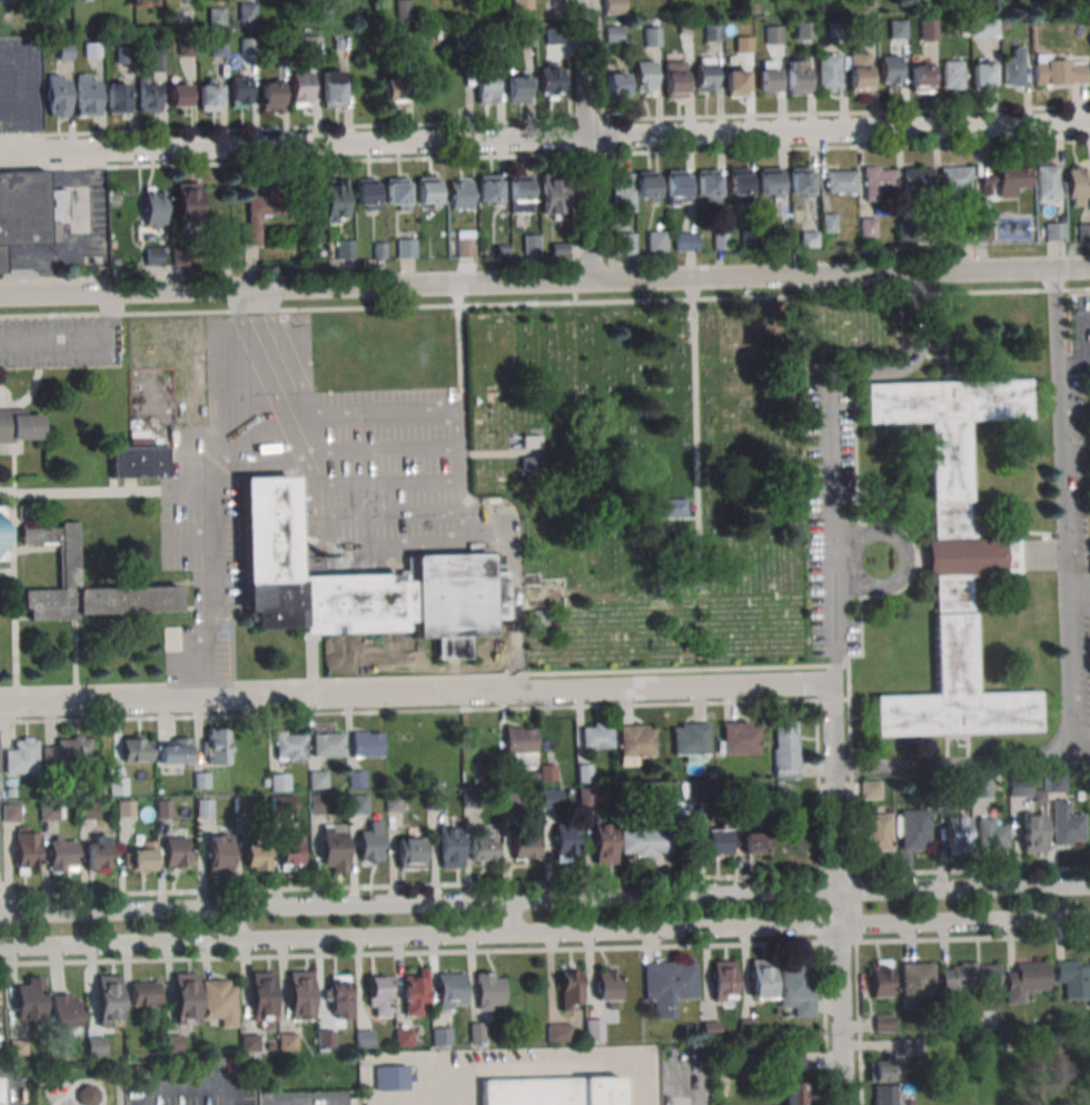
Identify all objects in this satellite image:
building: (87, 0)
building: (6, 1)
building: (153, 2)
building: (522, 4)
building: (614, 7)
building: (402, 10)
building: (247, 12)
building: (184, 14)
building: (216, 16)
building: (1004, 23)
building: (982, 27)
building: (898, 28)
building: (446, 29)
building: (684, 29)
building: (805, 29)
building: (868, 29)
building: (835, 30)
building: (712, 31)
building: (928, 31)
building: (614, 33)
building: (773, 34)
building: (553, 36)
building: (652, 36)
building: (526, 38)
building: (463, 39)
building: (402, 40)
building: (494, 40)
building: (337, 43)
building: (310, 45)
building: (743, 45)
building: (187, 46)
building: (248, 46)
building: (217, 47)
building: (91, 50)
building: (63, 51)
building: (125, 55)
building: (157, 62)
building: (1013, 68)
building: (1059, 70)
building: (828, 71)
building: (859, 71)
building: (889, 71)
building: (705, 73)
building: (952, 73)
building: (980, 73)
building: (674, 75)
building: (919, 75)
building: (767, 76)
building: (796, 76)
building: (551, 78)
building: (644, 78)
building: (735, 82)
building: (615, 85)
building: (486, 87)
building: (516, 87)
building: (300, 88)
building: (331, 88)
building: (240, 90)
building: (394, 92)
building: (148, 93)
building: (57, 95)
building: (87, 95)
building: (179, 95)
building: (270, 95)
building: (209, 96)
building: (117, 97)
road: (545, 121)
road: (603, 127)
road: (571, 134)
road: (544, 135)
road: (587, 139)
road: (545, 155)
building: (954, 179)
building: (1048, 179)
building: (799, 180)
building: (840, 180)
building: (915, 180)
building: (1004, 180)
building: (769, 181)
building: (878, 181)
building: (739, 184)
building: (646, 185)
building: (707, 185)
building: (1077, 185)
building: (676, 187)
building: (488, 189)
building: (427, 190)
building: (365, 191)
building: (622, 191)
building: (396, 193)
building: (519, 193)
building: (460, 194)
building: (553, 194)
building: (187, 201)
building: (335, 201)
building: (23, 208)
building: (153, 208)
building: (260, 213)
building: (829, 223)
building: (868, 226)
building: (905, 230)
building: (1056, 230)
building: (1083, 230)
building: (982, 231)
building: (963, 233)
road: (78, 237)
building: (749, 238)
building: (809, 239)
building: (656, 240)
building: (685, 240)
building: (781, 240)
building: (720, 241)
building: (465, 243)
building: (531, 244)
building: (626, 244)
building: (406, 247)
building: (345, 248)
building: (558, 248)
building: (499, 249)
building: (379, 250)
building: (221, 255)
building: (152, 256)
building: (179, 256)
road: (591, 256)
road: (53, 279)
road: (544, 280)
road: (574, 284)
road: (252, 300)
road: (544, 302)
road: (260, 318)
parking lot: (60, 341)
road: (1074, 359)
road: (286, 374)
road: (444, 418)
building: (19, 425)
road: (694, 427)
road: (829, 437)
building: (532, 441)
road: (505, 453)
building: (533, 461)
building: (139, 462)
road: (12, 468)
park: (655, 468)
parking lot: (378, 490)
road: (85, 491)
building: (674, 507)
road: (215, 515)
road: (1063, 524)
building: (2, 535)
road: (327, 542)
road: (33, 547)
building: (954, 555)
building: (69, 564)
road: (7, 572)
building: (360, 583)
road: (13, 584)
road: (514, 589)
building: (535, 620)
building: (170, 637)
road: (75, 654)
road: (416, 677)
road: (810, 683)
road: (413, 693)
road: (832, 700)
road: (495, 709)
building: (596, 736)
building: (739, 737)
building: (690, 740)
building: (635, 741)
building: (366, 743)
building: (216, 744)
building: (289, 744)
building: (327, 744)
building: (519, 744)
building: (136, 749)
building: (785, 749)
building: (172, 750)
building: (66, 752)
building: (21, 756)
road: (850, 762)
road: (951, 764)
building: (547, 772)
building: (584, 773)
building: (318, 778)
building: (356, 779)
building: (200, 780)
building: (264, 781)
building: (278, 781)
building: (1054, 781)
building: (436, 783)
building: (118, 785)
building: (1089, 785)
building: (1021, 786)
building: (980, 788)
building: (870, 789)
building: (10, 792)
building: (704, 792)
building: (744, 793)
building: (1078, 796)
building: (551, 797)
building: (585, 797)
building: (469, 799)
building: (508, 799)
building: (432, 800)
building: (942, 801)
building: (393, 802)
building: (240, 803)
building: (283, 803)
building: (319, 803)
building: (357, 803)
building: (125, 808)
building: (163, 808)
building: (204, 808)
building: (49, 810)
building: (87, 810)
building: (10, 811)
building: (1066, 825)
building: (913, 829)
building: (878, 832)
building: (955, 832)
building: (990, 832)
building: (1032, 832)
building: (370, 839)
building: (645, 840)
building: (716, 840)
building: (564, 841)
building: (754, 841)
building: (603, 842)
building: (449, 846)
building: (483, 847)
building: (524, 847)
building: (289, 848)
building: (334, 848)
building: (26, 849)
building: (177, 851)
building: (408, 852)
building: (61, 854)
building: (96, 854)
building: (141, 855)
building: (218, 855)
building: (256, 856)
road: (971, 870)
road: (835, 874)
road: (409, 885)
road: (835, 895)
road: (545, 899)
road: (858, 907)
road: (816, 908)
road: (512, 917)
road: (235, 923)
road: (545, 933)
road: (890, 940)
road: (839, 941)
road: (492, 951)
building: (970, 976)
building: (762, 977)
building: (1072, 977)
building: (881, 978)
building: (1025, 978)
building: (723, 979)
building: (915, 983)
building: (668, 984)
building: (569, 986)
building: (606, 986)
building: (795, 988)
building: (450, 990)
building: (488, 990)
building: (414, 991)
building: (142, 993)
building: (300, 995)
building: (377, 995)
building: (261, 996)
building: (337, 996)
building: (29, 998)
building: (185, 998)
building: (107, 999)
building: (218, 1000)
building: (60, 1007)
building: (882, 1023)
building: (1024, 1026)
building: (746, 1027)
building: (593, 1029)
building: (476, 1032)
building: (558, 1032)
building: (440, 1035)
building: (403, 1036)
building: (364, 1037)
building: (325, 1038)
building: (286, 1040)
building: (248, 1042)
building: (93, 1044)
building: (168, 1044)
building: (268, 1046)
building: (911, 1046)
building: (18, 1047)
building: (793, 1059)
road: (542, 1069)
building: (882, 1071)
building: (392, 1077)
building: (552, 1091)
building: (795, 1093)
road: (229, 1094)
building: (884, 1094)
road: (0, 1095)
building: (87, 1095)
building: (909, 1103)

